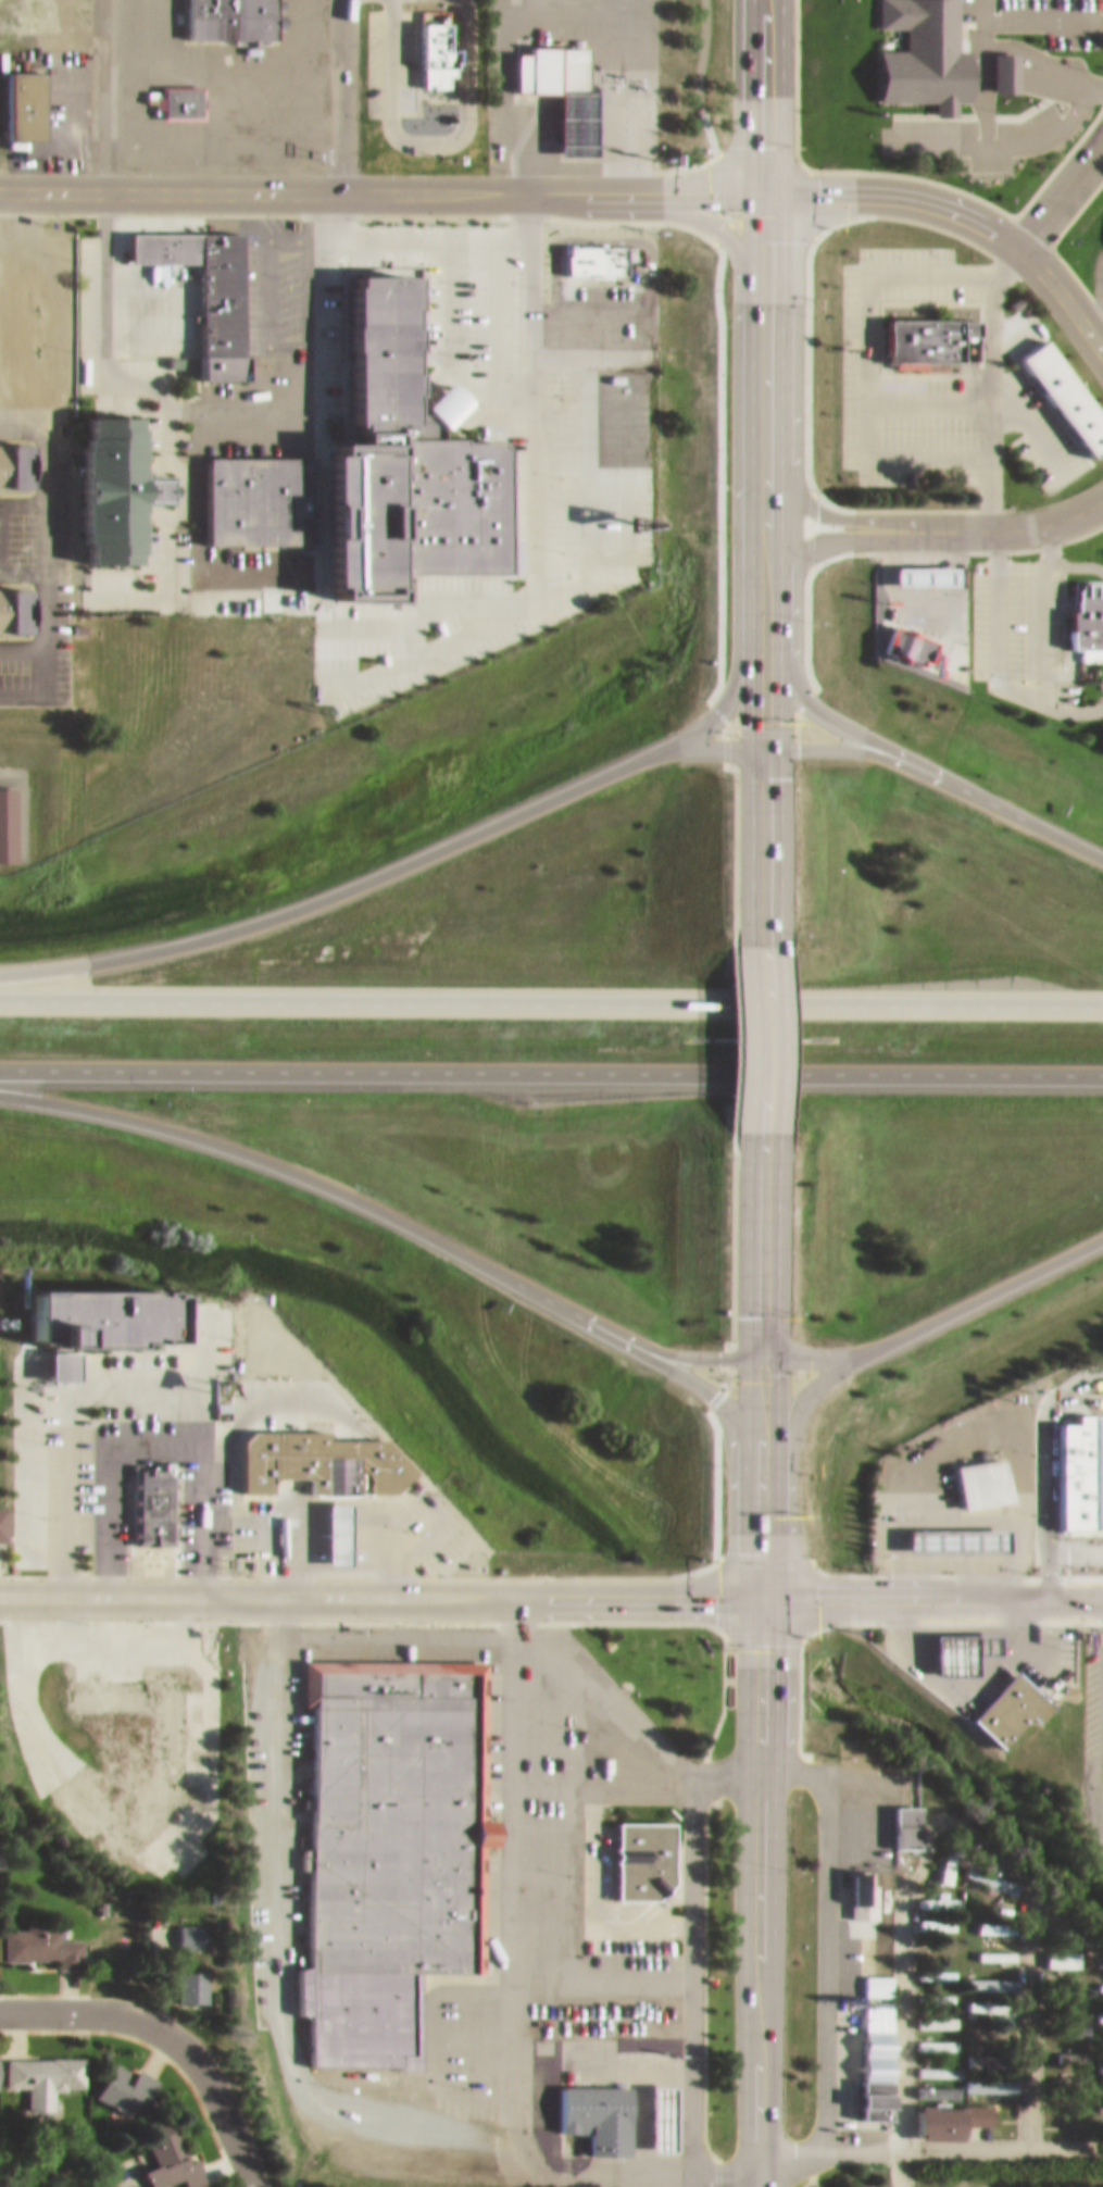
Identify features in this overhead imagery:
building: (225, 13)
road: (147, 28)
road: (297, 28)
building: (428, 45)
road: (195, 58)
building: (925, 60)
building: (1000, 62)
road: (1075, 70)
parking lot: (220, 79)
building: (565, 90)
building: (173, 92)
road: (343, 92)
road: (767, 92)
road: (95, 93)
building: (15, 95)
road: (217, 98)
road: (700, 103)
road: (1045, 104)
road: (426, 133)
road: (218, 138)
road: (1061, 184)
road: (446, 185)
road: (957, 203)
building: (1102, 228)
building: (587, 251)
road: (1062, 289)
building: (212, 297)
road: (1090, 298)
building: (923, 330)
road: (765, 352)
road: (864, 354)
road: (989, 372)
building: (1058, 389)
road: (981, 392)
road: (163, 393)
road: (23, 421)
building: (10, 455)
building: (364, 457)
building: (100, 480)
road: (937, 518)
road: (1045, 535)
road: (46, 552)
road: (1021, 557)
road: (1075, 557)
road: (762, 564)
building: (916, 564)
building: (16, 601)
building: (1078, 615)
road: (997, 617)
road: (1033, 623)
building: (894, 633)
road: (759, 674)
road: (47, 685)
road: (1068, 699)
road: (828, 737)
road: (695, 738)
road: (908, 754)
road: (20, 795)
building: (9, 814)
road: (753, 836)
road: (417, 847)
road: (551, 993)
road: (750, 1028)
road: (551, 1061)
road: (308, 1171)
road: (752, 1233)
road: (901, 1322)
road: (672, 1344)
road: (800, 1350)
road: (697, 1377)
building: (1073, 1390)
road: (62, 1394)
road: (756, 1410)
road: (151, 1437)
building: (309, 1453)
building: (1070, 1461)
building: (973, 1473)
building: (1102, 1476)
building: (145, 1492)
building: (23, 1504)
building: (327, 1522)
gas station: (327, 1522)
building: (947, 1529)
gas station: (947, 1529)
road: (756, 1532)
road: (377, 1586)
road: (929, 1587)
road: (418, 1633)
building: (940, 1645)
gas station: (940, 1645)
building: (997, 1701)
road: (625, 1702)
building: (171, 1716)
road: (1092, 1772)
building: (89, 1791)
building: (146, 1811)
building: (897, 1815)
building: (948, 1833)
building: (384, 1841)
building: (3, 1848)
building: (636, 1848)
building: (991, 1872)
building: (856, 1884)
road: (754, 1887)
building: (935, 1891)
building: (983, 1897)
road: (505, 1900)
building: (932, 1914)
road: (824, 1917)
building: (981, 1917)
building: (184, 1926)
building: (45, 1934)
building: (937, 1939)
building: (991, 1946)
building: (1060, 1949)
building: (268, 1957)
road: (599, 1959)
building: (932, 1964)
building: (991, 1972)
building: (870, 1975)
building: (184, 1976)
road: (691, 1976)
building: (1098, 1976)
building: (1068, 1977)
building: (935, 1989)
building: (1068, 1996)
road: (901, 1998)
building: (988, 1998)
building: (1102, 2007)
building: (932, 2012)
road: (1028, 2014)
building: (1071, 2022)
building: (988, 2025)
building: (1102, 2030)
road: (171, 2033)
building: (933, 2035)
building: (1068, 2047)
building: (935, 2062)
building: (1, 2063)
building: (47, 2066)
building: (1068, 2073)
building: (129, 2076)
road: (291, 2087)
building: (862, 2090)
building: (1066, 2096)
building: (972, 2104)
building: (588, 2108)
building: (651, 2108)
building: (929, 2113)
road: (861, 2138)
road: (1002, 2138)
building: (174, 2146)
road: (788, 2152)
park: (43, 2157)

